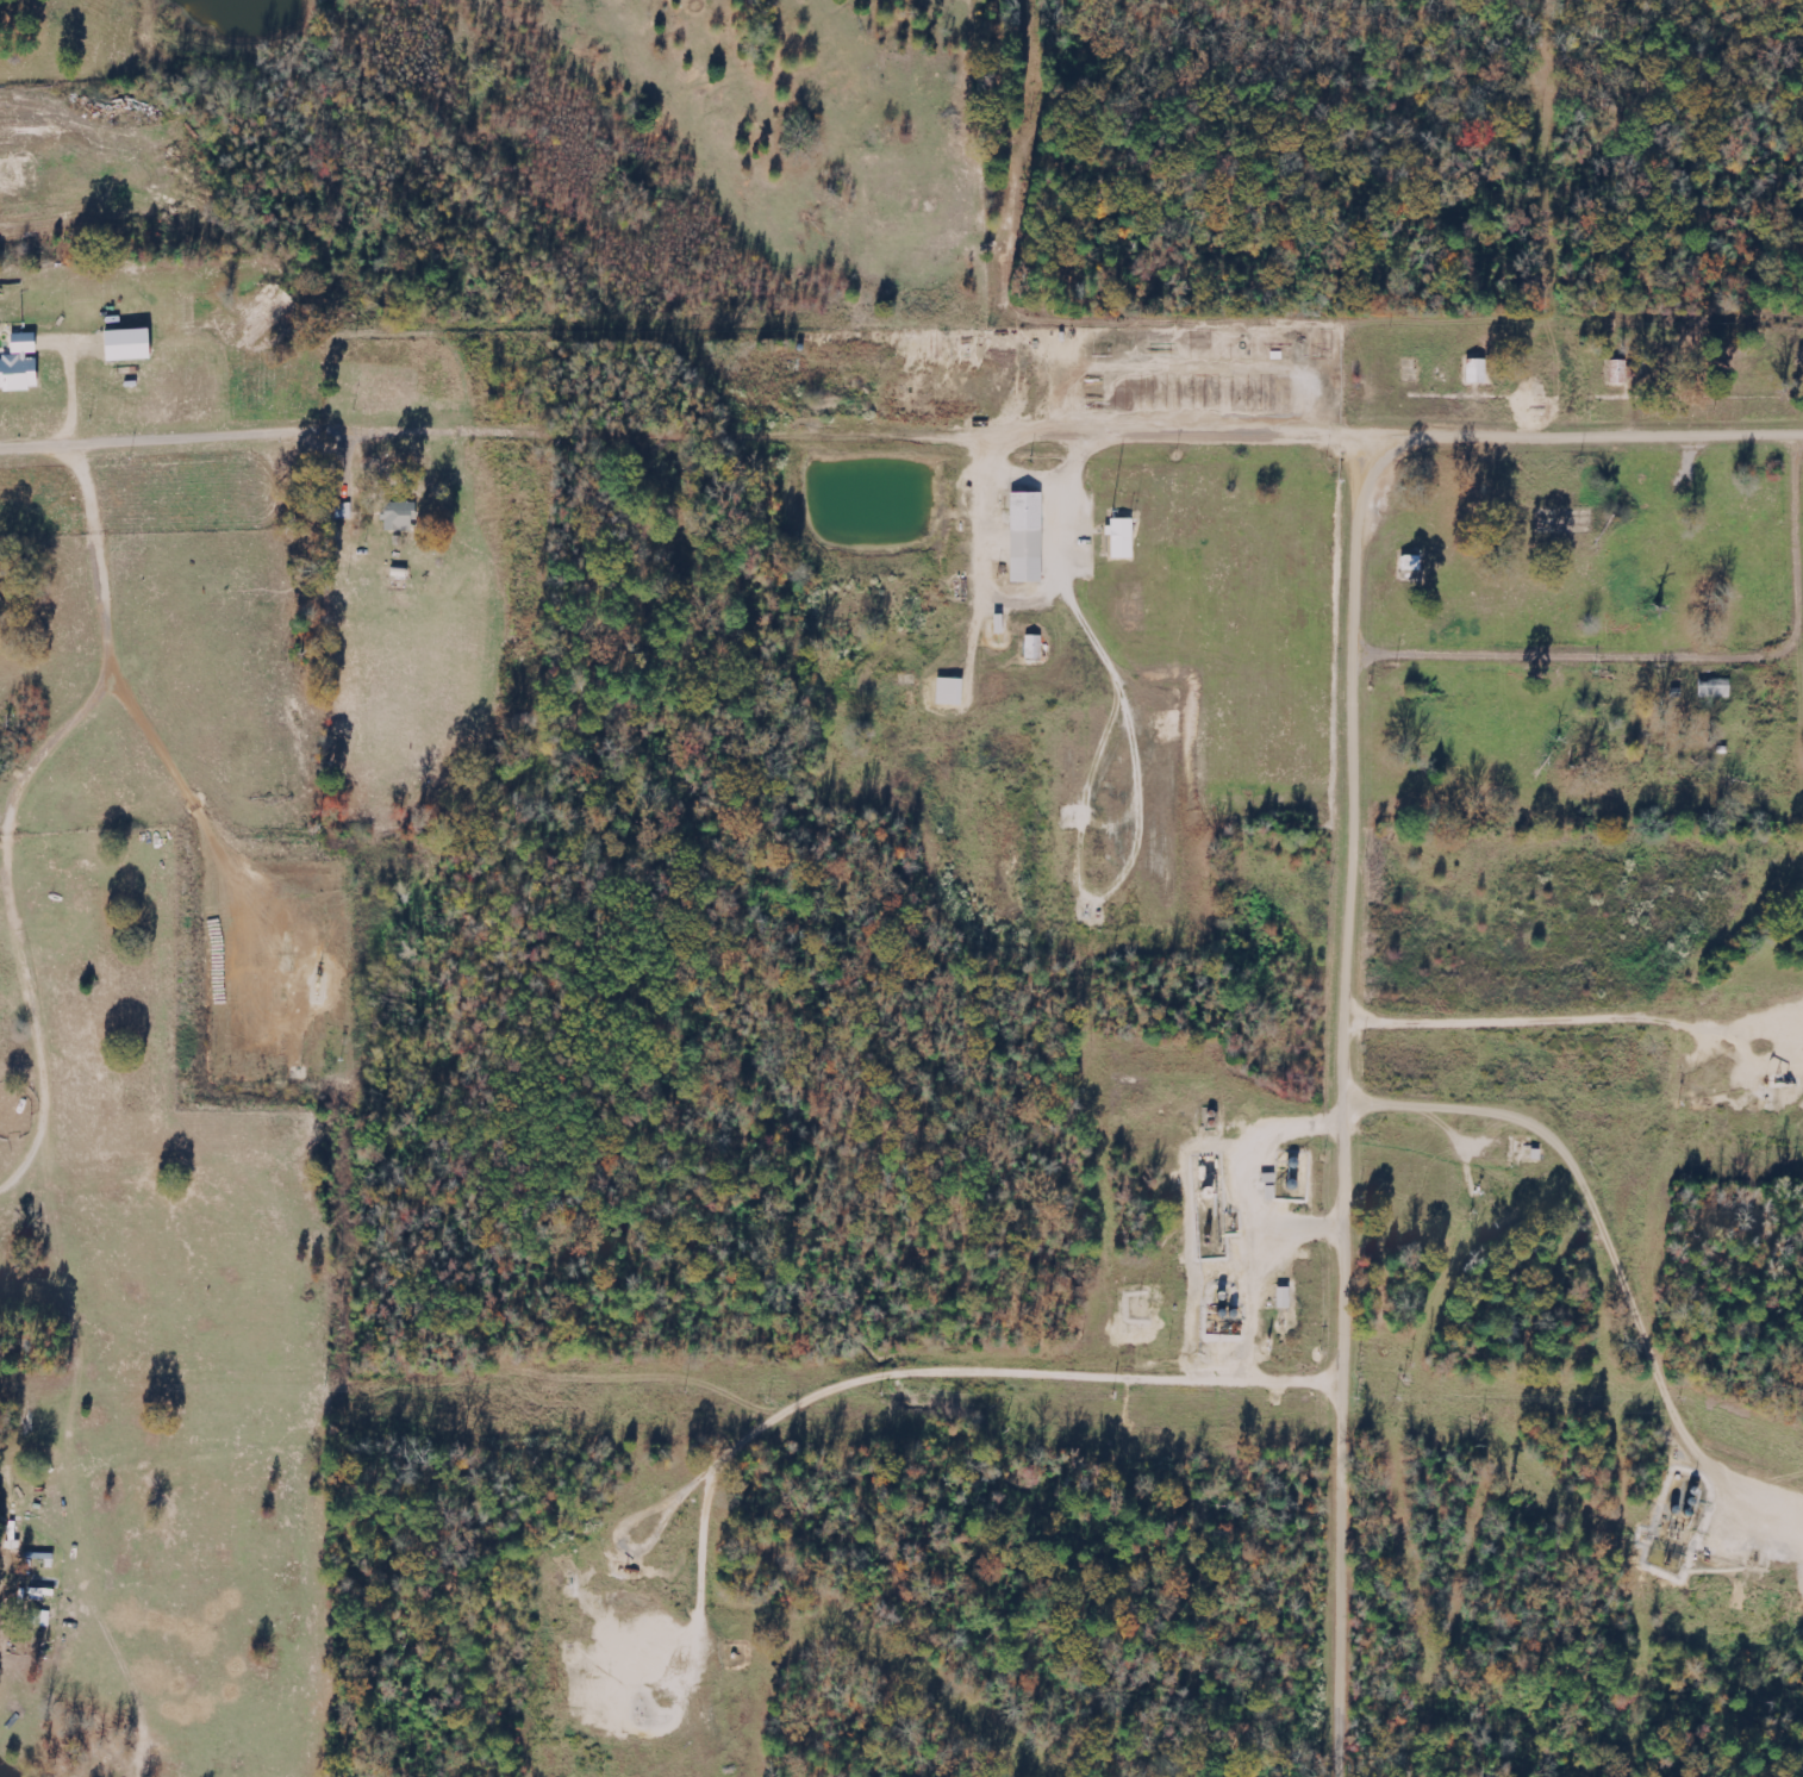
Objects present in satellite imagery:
building: (131, 344)
building: (21, 364)
building: (1479, 370)
building: (1620, 372)
road: (1050, 439)
road: (163, 441)
building: (400, 517)
building: (1029, 537)
building: (1123, 538)
building: (1412, 563)
building: (1036, 648)
road: (1583, 665)
building: (1716, 688)
building: (952, 692)
road: (1584, 837)
road: (1361, 905)
road: (1579, 1037)
road: (974, 1402)

